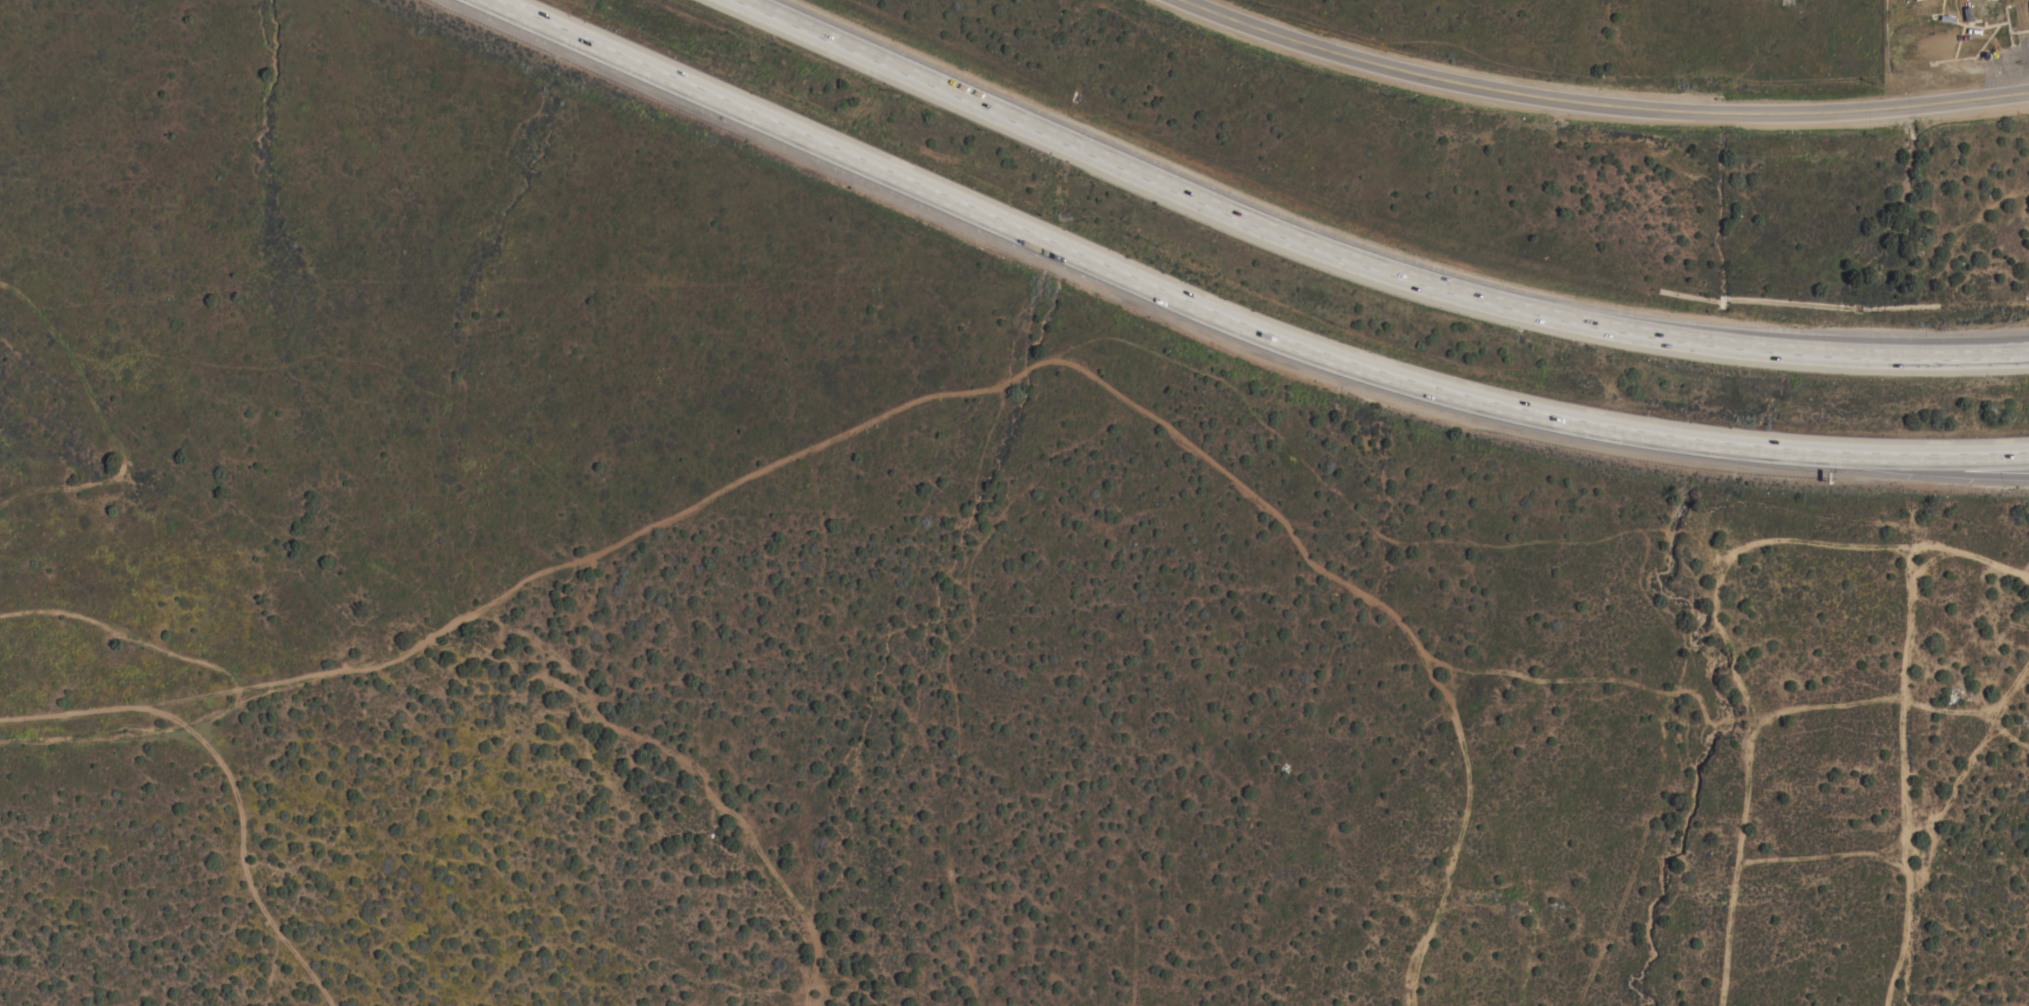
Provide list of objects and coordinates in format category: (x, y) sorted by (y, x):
building: (2028, 4)
building: (1988, 9)
road: (1601, 100)
road: (1359, 259)
road: (1152, 279)
road: (1983, 345)
road: (1933, 449)
road: (1933, 465)

